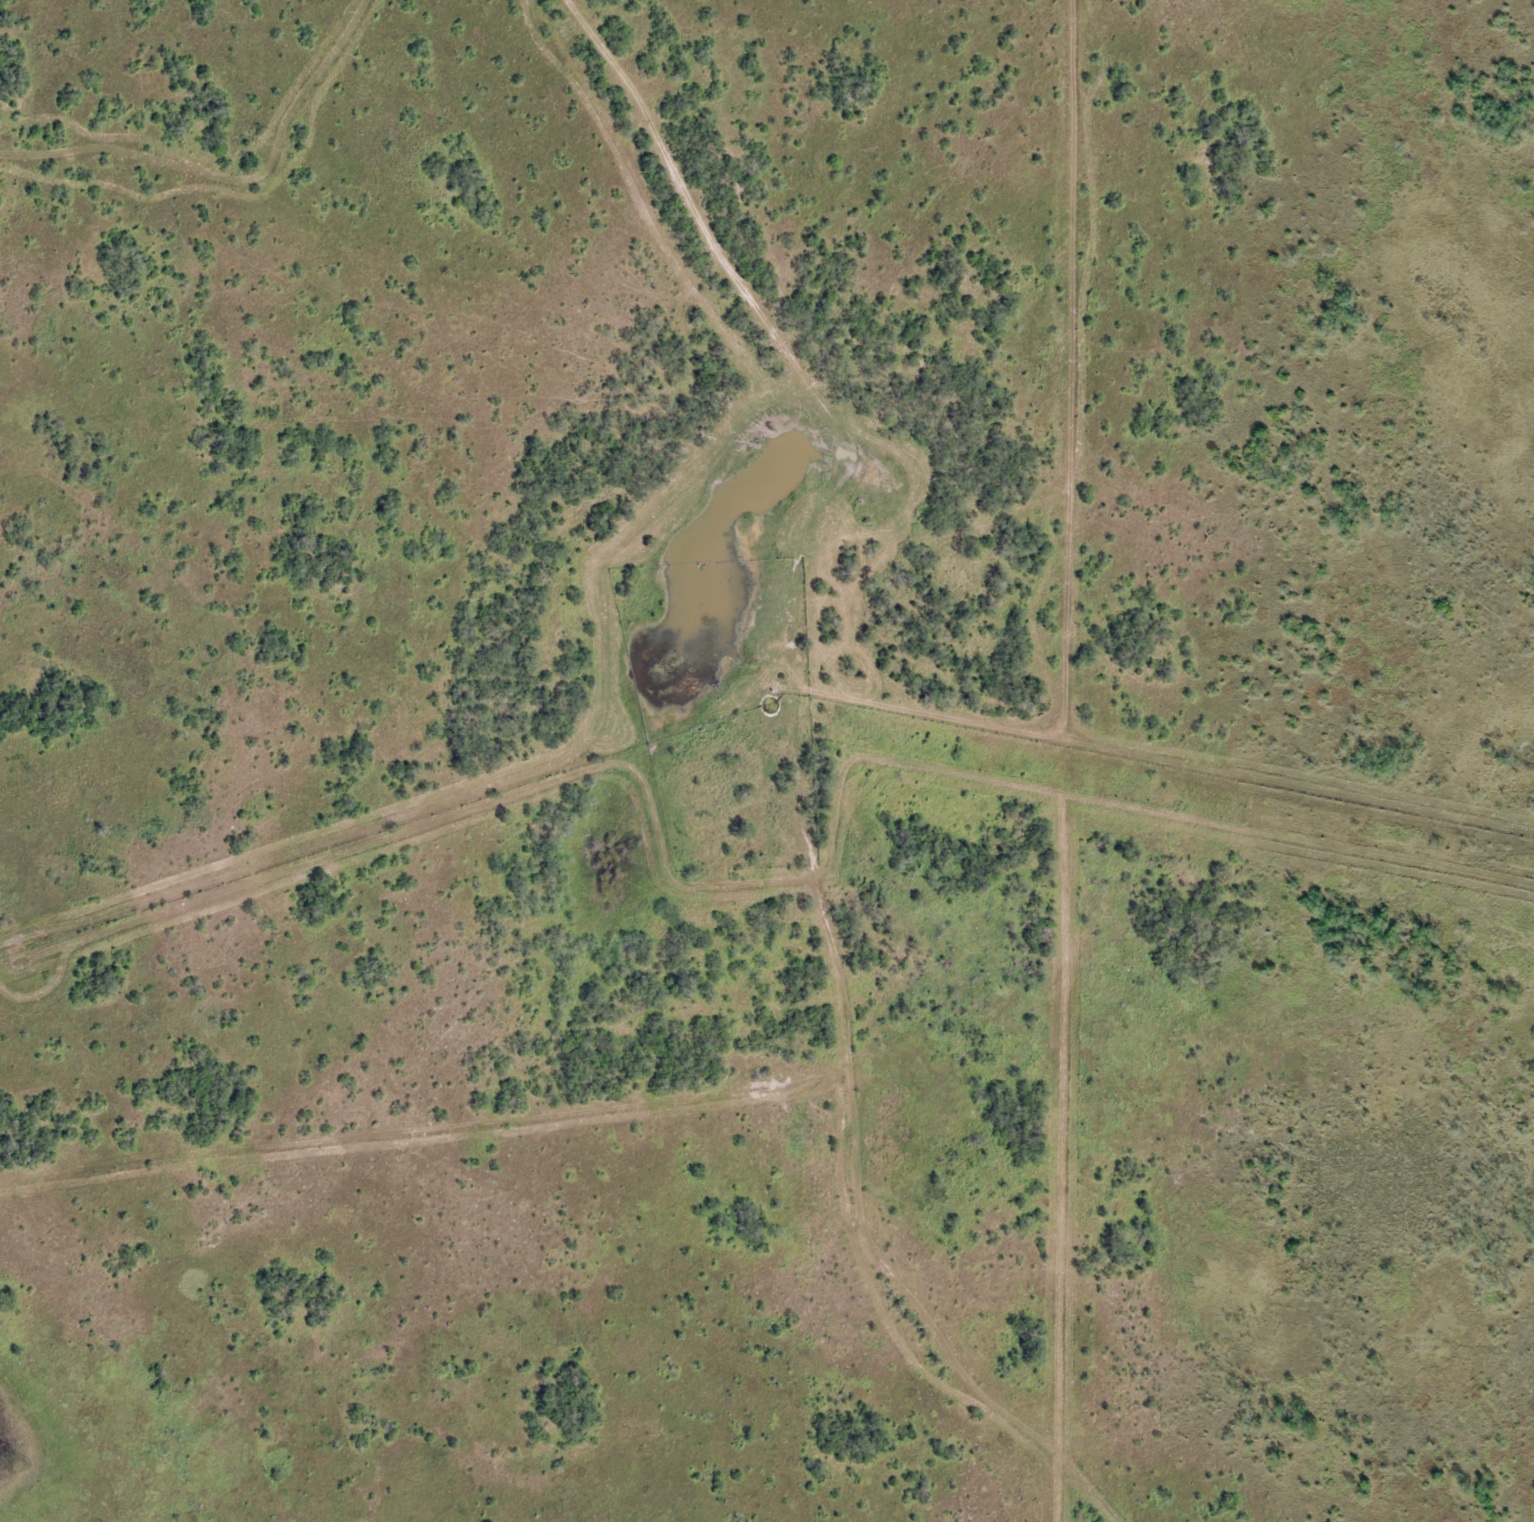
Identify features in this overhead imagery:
road: (839, 696)
road: (1035, 761)

